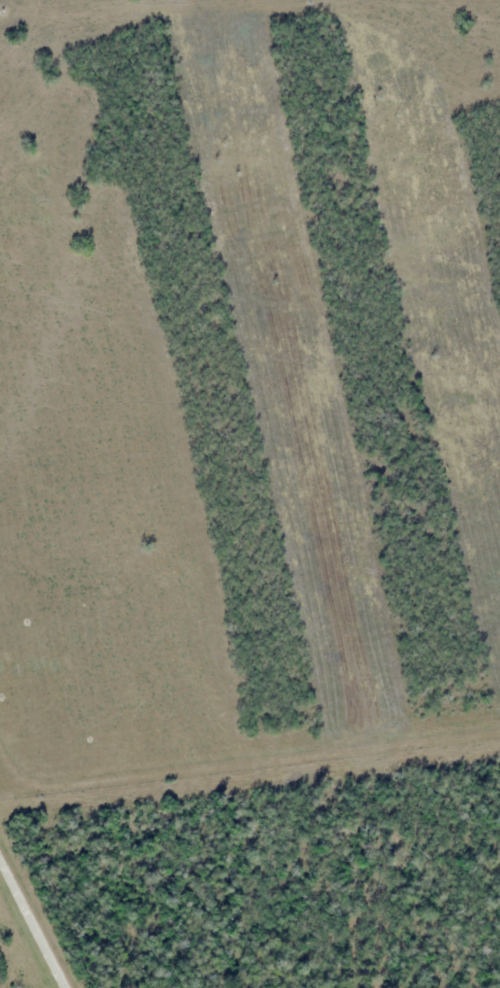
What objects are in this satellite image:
road: (34, 920)

